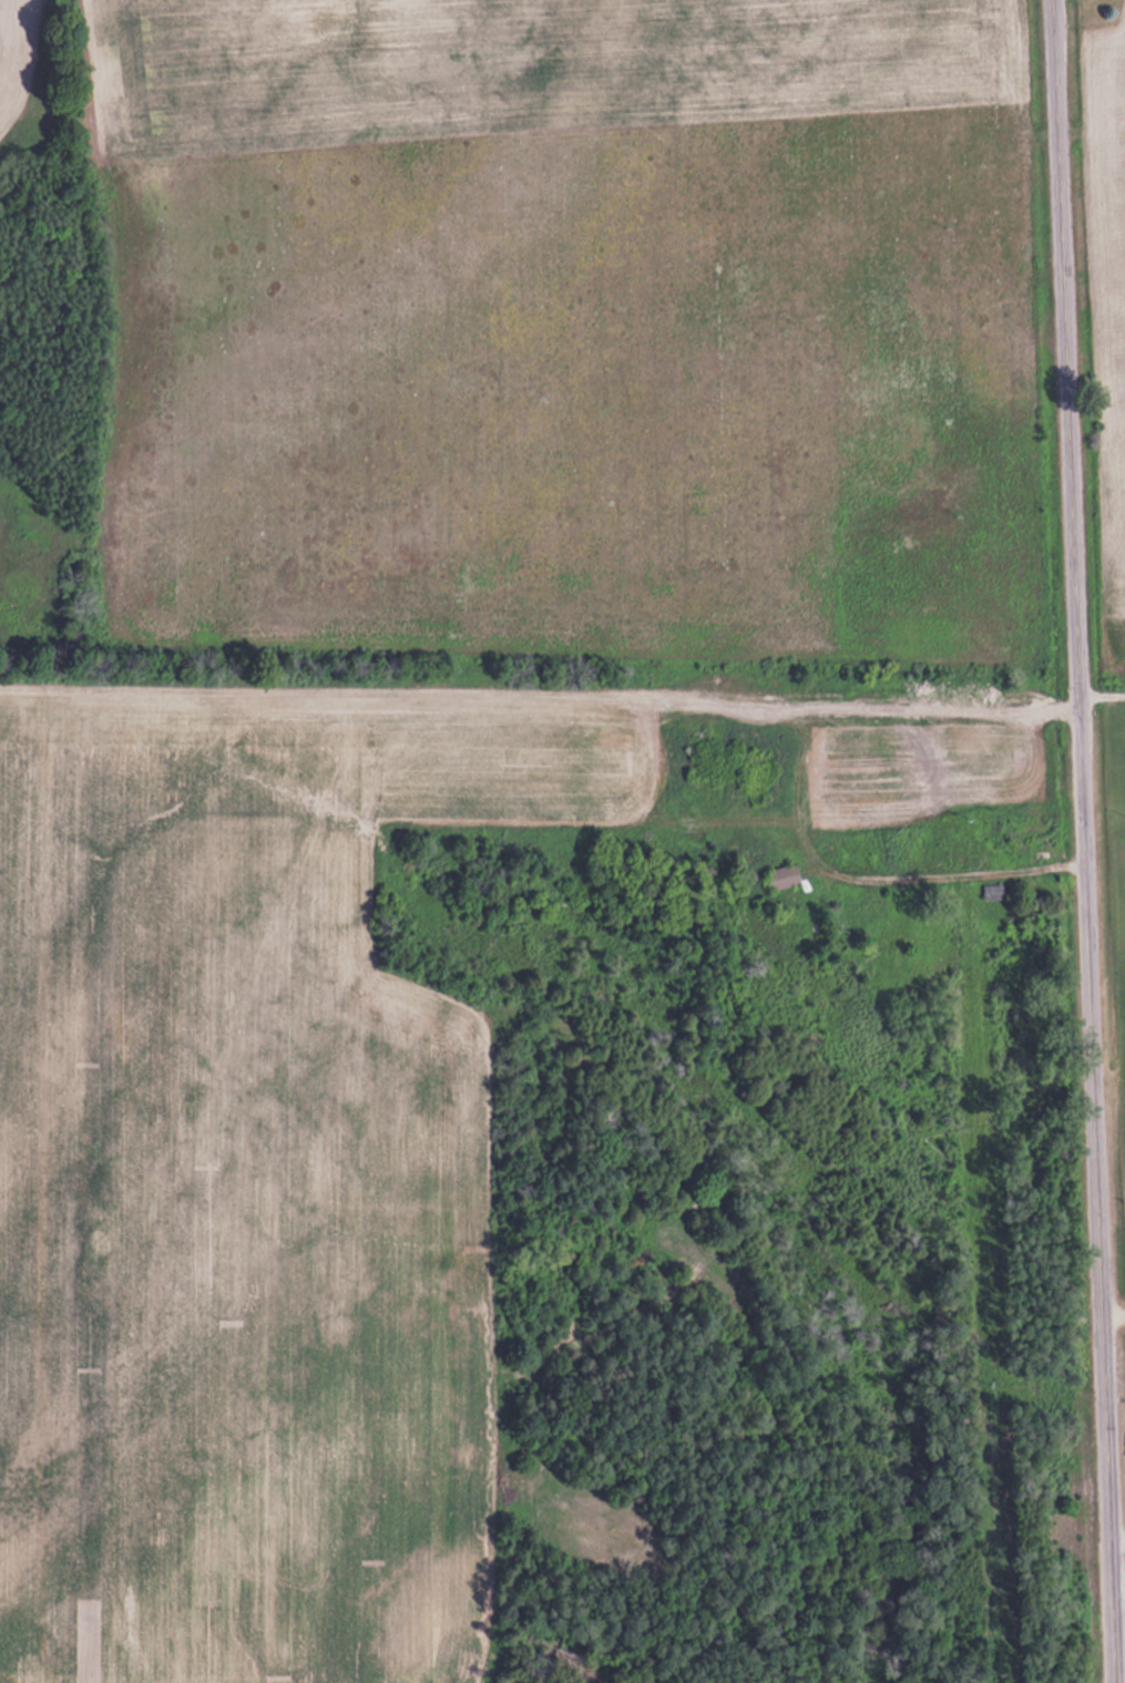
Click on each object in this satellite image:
road: (1100, 692)
building: (1022, 840)
road: (1078, 841)
building: (783, 875)
building: (990, 891)
road: (1111, 1320)
road: (1116, 1530)

